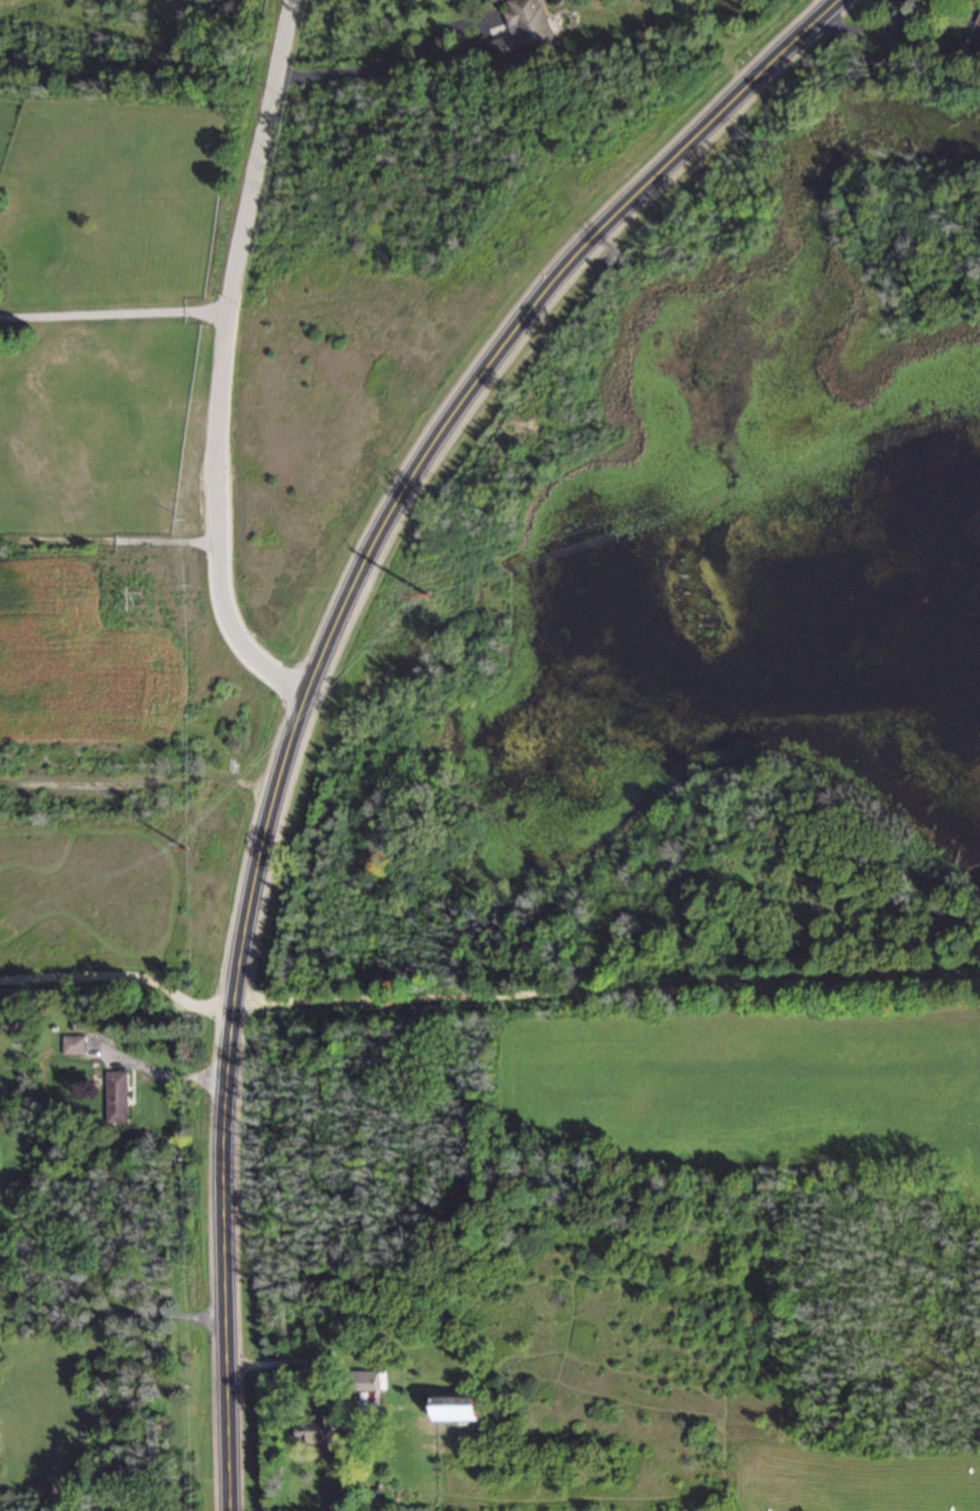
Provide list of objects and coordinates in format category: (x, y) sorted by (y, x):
road: (893, 24)
building: (525, 31)
road: (382, 66)
road: (112, 314)
road: (217, 369)
road: (108, 543)
power tower: (427, 598)
power tower: (139, 601)
road: (319, 668)
road: (140, 782)
power tower: (183, 851)
road: (119, 979)
road: (605, 996)
building: (75, 1047)
road: (160, 1073)
building: (118, 1099)
road: (113, 1309)
road: (292, 1363)
building: (363, 1382)
building: (459, 1410)
building: (321, 1435)

